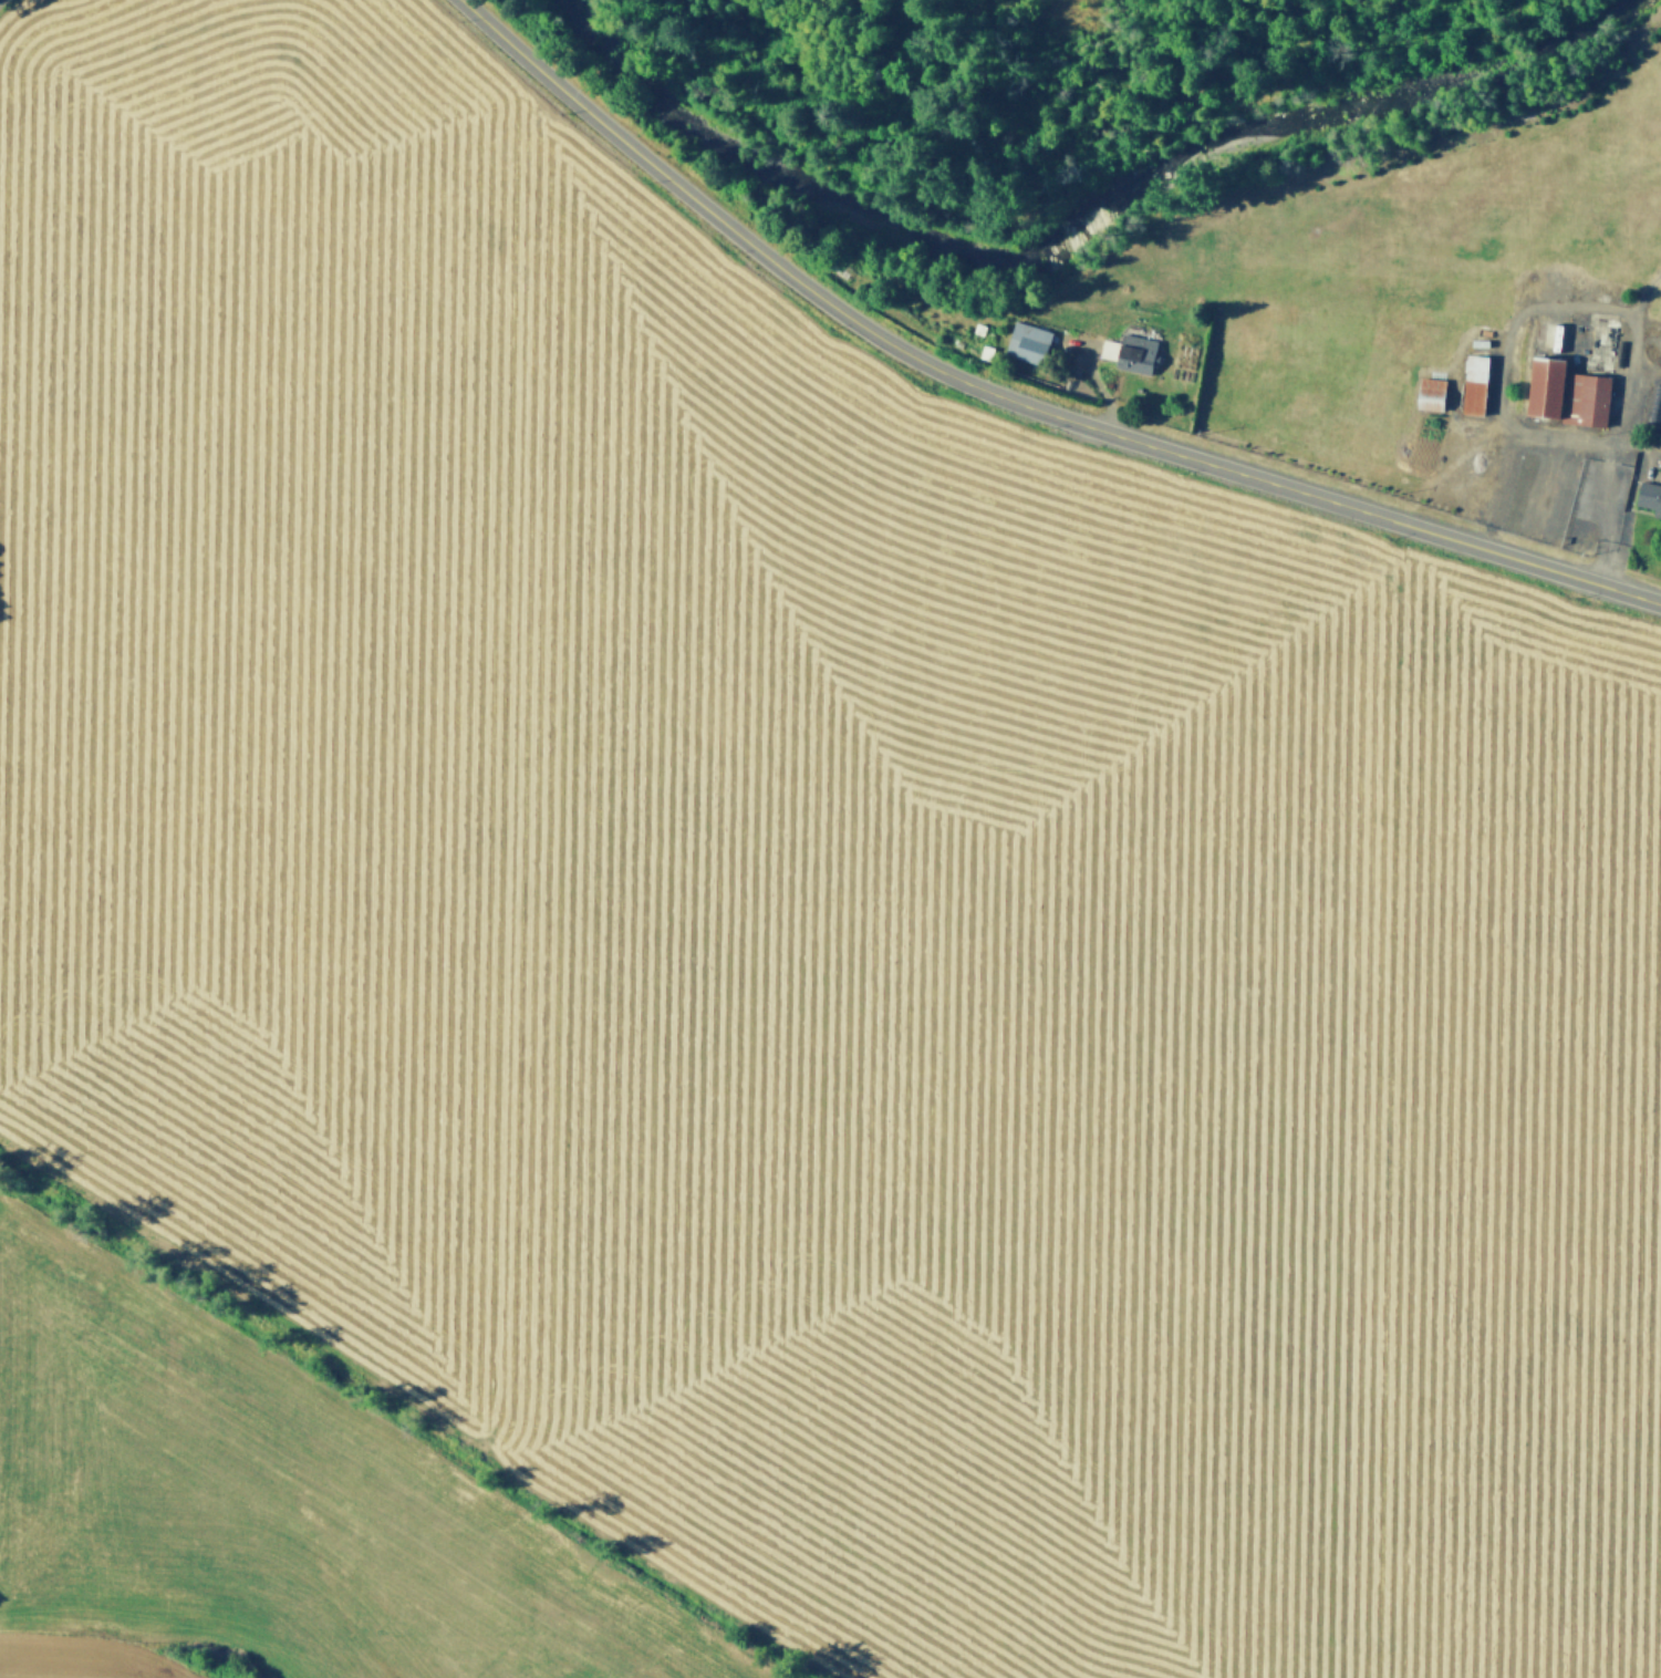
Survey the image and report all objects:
river: (1063, 224)
road: (1601, 299)
building: (1468, 339)
building: (1024, 341)
building: (1657, 342)
building: (1133, 353)
building: (1466, 386)
building: (1567, 393)
building: (1422, 396)
road: (1013, 397)
road: (1497, 488)
building: (1646, 496)
crop: (260, 653)
crop: (923, 1001)
crop: (1516, 1136)
crop: (271, 1506)

